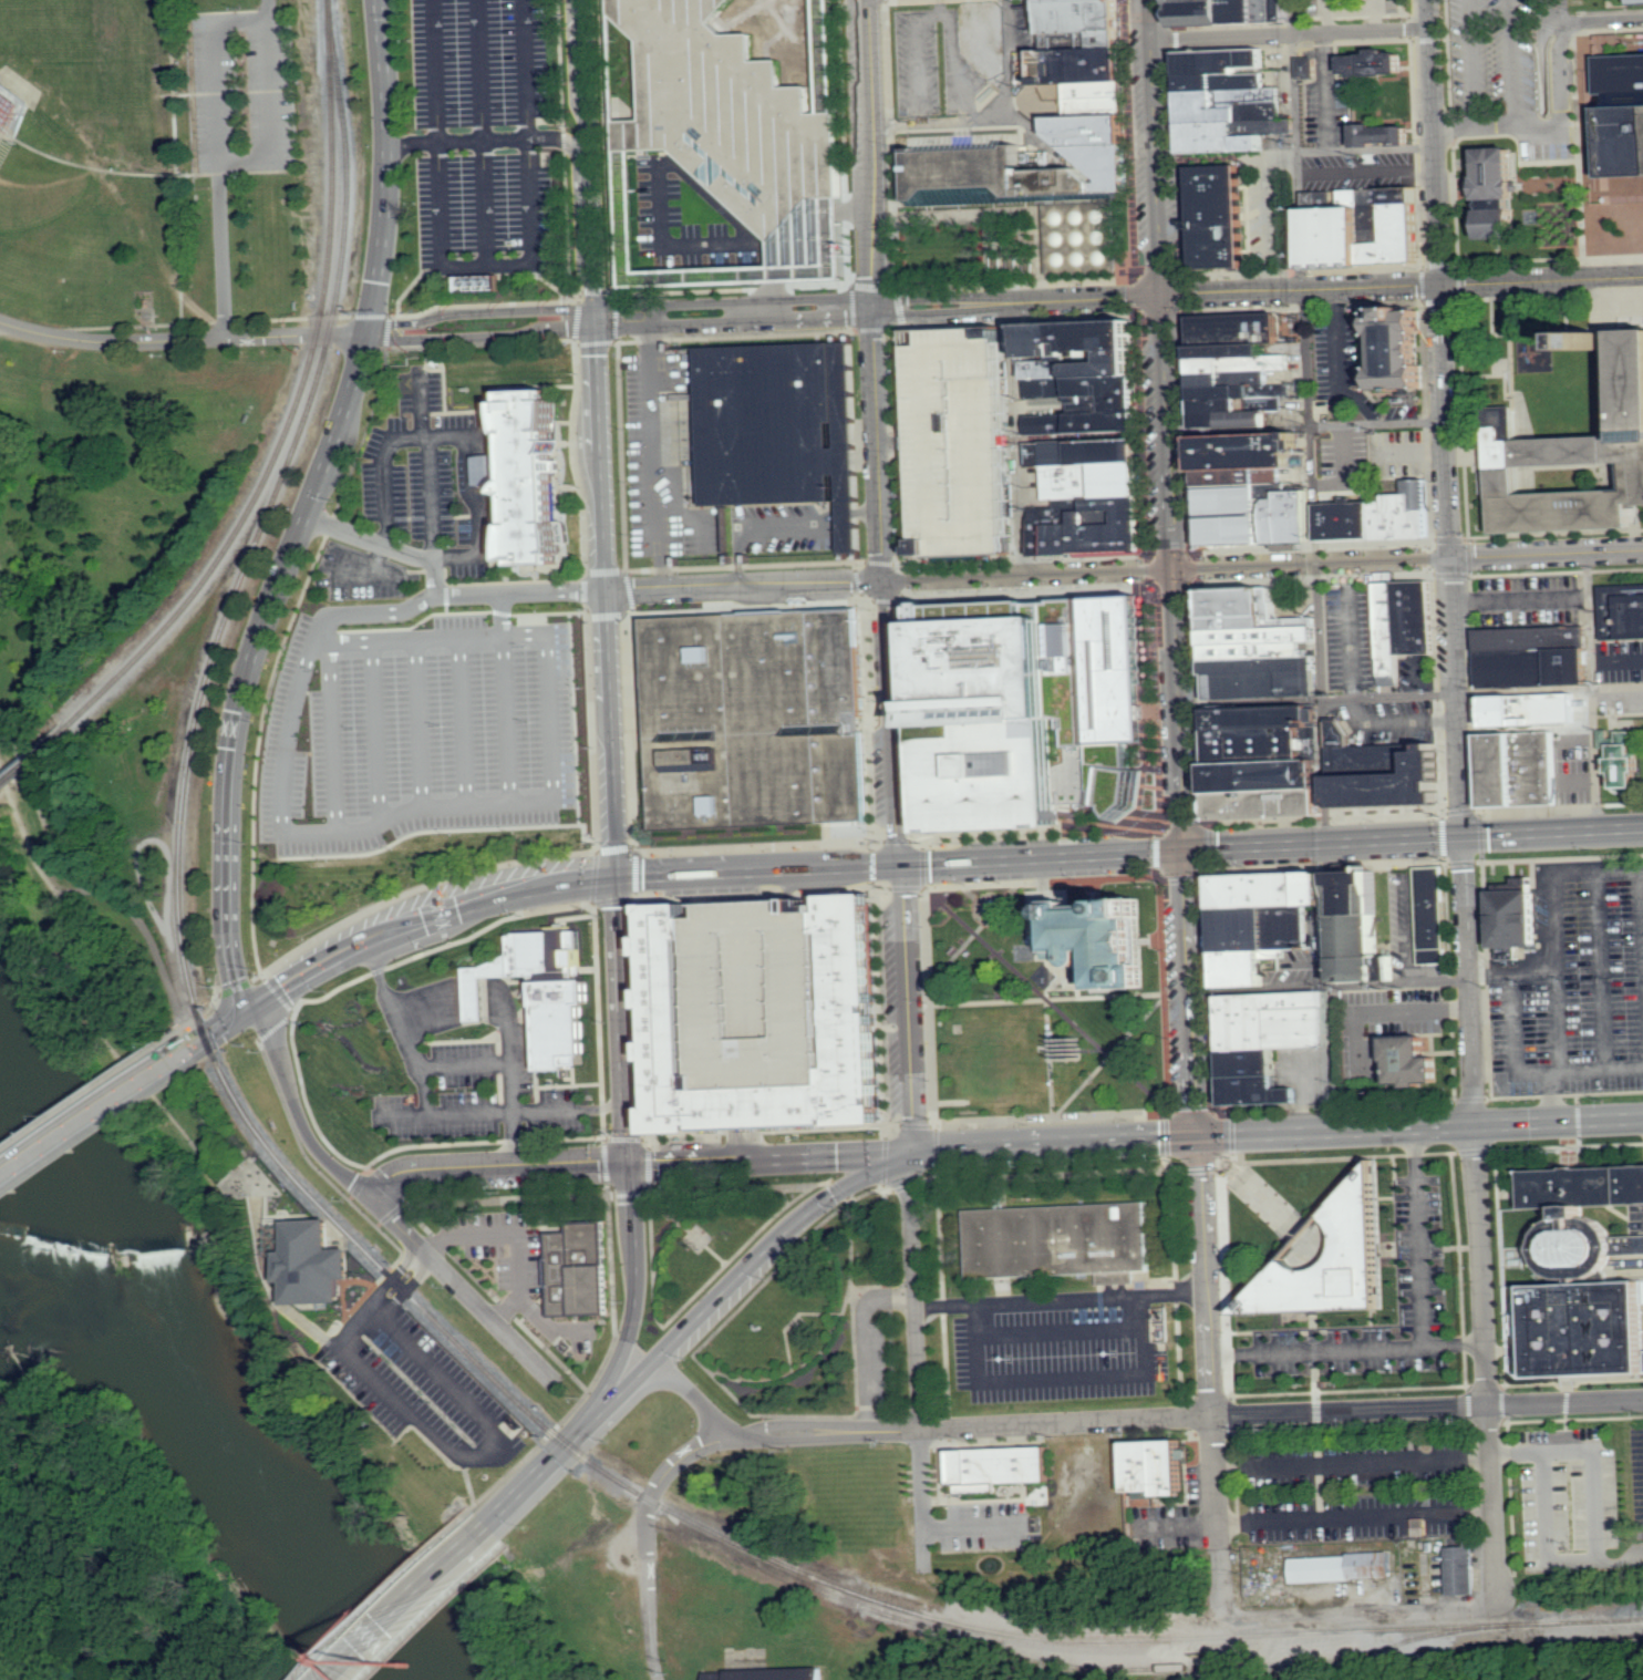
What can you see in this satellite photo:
building: (1636, 1)
road: (1350, 8)
road: (1562, 9)
road: (224, 10)
road: (270, 11)
building: (1230, 12)
road: (1325, 16)
road: (1375, 16)
road: (1292, 17)
road: (1587, 20)
road: (1360, 31)
road: (1223, 35)
building: (981, 39)
building: (826, 56)
road: (1009, 59)
road: (1511, 61)
building: (1374, 62)
road: (1470, 62)
road: (1542, 62)
building: (614, 66)
building: (1305, 68)
road: (216, 70)
road: (583, 72)
road: (382, 75)
parking lot: (1511, 78)
road: (226, 90)
parking lot: (244, 91)
road: (1326, 91)
building: (14, 96)
building: (1231, 99)
building: (1619, 113)
road: (273, 121)
road: (938, 121)
building: (1047, 123)
building: (738, 132)
road: (479, 133)
road: (1550, 133)
building: (1379, 134)
road: (486, 138)
parking lot: (478, 140)
road: (1364, 150)
road: (868, 154)
road: (175, 169)
road: (1366, 169)
road: (144, 173)
building: (1497, 192)
building: (626, 209)
road: (1268, 209)
building: (1213, 216)
building: (1358, 226)
road: (590, 231)
road: (381, 241)
road: (221, 255)
road: (488, 266)
building: (480, 282)
road: (1404, 286)
traffic signals: (1165, 295)
road: (1019, 301)
road: (733, 313)
traffic signals: (595, 319)
railway: (318, 321)
road: (482, 326)
traffic signals: (369, 332)
road: (183, 339)
building: (1393, 353)
building: (1233, 369)
building: (1076, 378)
road: (420, 401)
road: (1169, 412)
road: (1444, 419)
building: (788, 423)
road: (1306, 425)
road: (441, 435)
building: (957, 436)
parking garage: (957, 436)
road: (1013, 440)
road: (878, 445)
road: (653, 455)
building: (1570, 464)
parking lot: (423, 468)
park: (154, 473)
building: (527, 476)
building: (1234, 483)
road: (383, 491)
building: (1082, 497)
road: (431, 498)
road: (477, 516)
building: (1378, 516)
building: (1284, 518)
road: (783, 526)
parking lot: (783, 527)
road: (368, 539)
road: (1546, 554)
road: (1166, 570)
traffic signals: (1176, 570)
road: (433, 579)
road: (1316, 581)
road: (744, 588)
road: (518, 592)
road: (606, 599)
road: (503, 614)
building: (1620, 614)
building: (1412, 617)
building: (1252, 646)
road: (252, 651)
building: (1529, 656)
railway: (100, 689)
road: (1549, 689)
road: (1593, 691)
road: (1317, 699)
parking lot: (1621, 701)
building: (1032, 710)
road: (507, 717)
building: (747, 717)
road: (463, 719)
road: (420, 721)
parking lot: (415, 723)
road: (890, 723)
road: (376, 731)
road: (332, 736)
building: (1521, 749)
building: (1619, 755)
road: (919, 757)
building: (1261, 763)
building: (1379, 772)
railway: (9, 775)
road: (448, 803)
road: (23, 836)
traffic signals: (1464, 837)
road: (694, 847)
traffic signals: (1185, 851)
road: (1129, 853)
traffic signals: (899, 866)
traffic signals: (618, 879)
road: (1642, 894)
fountain: (991, 908)
building: (1430, 914)
building: (1511, 916)
road: (1551, 918)
road: (424, 923)
building: (1269, 925)
building: (1356, 927)
road: (142, 930)
building: (1094, 938)
road: (1602, 966)
road: (1190, 980)
road: (1469, 981)
road: (1330, 986)
parking lot: (1572, 986)
building: (539, 989)
road: (240, 998)
park: (1045, 999)
road: (459, 1000)
traffic signals: (246, 1009)
building: (759, 1011)
road: (1377, 1012)
road: (197, 1017)
road: (1556, 1021)
road: (208, 1035)
building: (1265, 1038)
building: (1074, 1049)
building: (1406, 1059)
road: (464, 1066)
road: (1532, 1068)
parking lot: (477, 1095)
road: (1552, 1095)
road: (512, 1097)
road: (79, 1099)
road: (152, 1099)
road: (294, 1110)
road: (436, 1115)
road: (405, 1116)
road: (84, 1122)
road: (1273, 1133)
traffic signals: (1199, 1136)
road: (628, 1144)
road: (906, 1148)
traffic signals: (906, 1152)
road: (767, 1158)
traffic signals: (629, 1166)
road: (497, 1171)
road: (520, 1228)
road: (1420, 1237)
parking lot: (1419, 1239)
building: (1056, 1240)
building: (1332, 1259)
building: (308, 1260)
building: (576, 1267)
road: (747, 1267)
parking lot: (517, 1271)
railway: (386, 1272)
building: (1581, 1275)
park: (766, 1285)
road: (461, 1288)
road: (383, 1298)
road: (1060, 1299)
road: (548, 1328)
road: (1062, 1332)
road: (864, 1343)
road: (1346, 1349)
parking lot: (1060, 1352)
road: (1486, 1368)
road: (1063, 1375)
road: (1210, 1377)
parking lot: (418, 1382)
road: (693, 1395)
road: (1281, 1413)
river: (216, 1418)
road: (823, 1434)
road: (492, 1449)
road: (1352, 1461)
road: (546, 1463)
building: (989, 1464)
building: (1151, 1465)
road: (1593, 1475)
parking lot: (1357, 1490)
road: (923, 1499)
road: (1355, 1517)
road: (976, 1527)
road: (1176, 1529)
road: (1547, 1532)
road: (644, 1540)
building: (1339, 1566)
building: (1458, 1569)
road: (409, 1601)
road: (1360, 1614)
railway: (1228, 1664)
building: (764, 1673)

